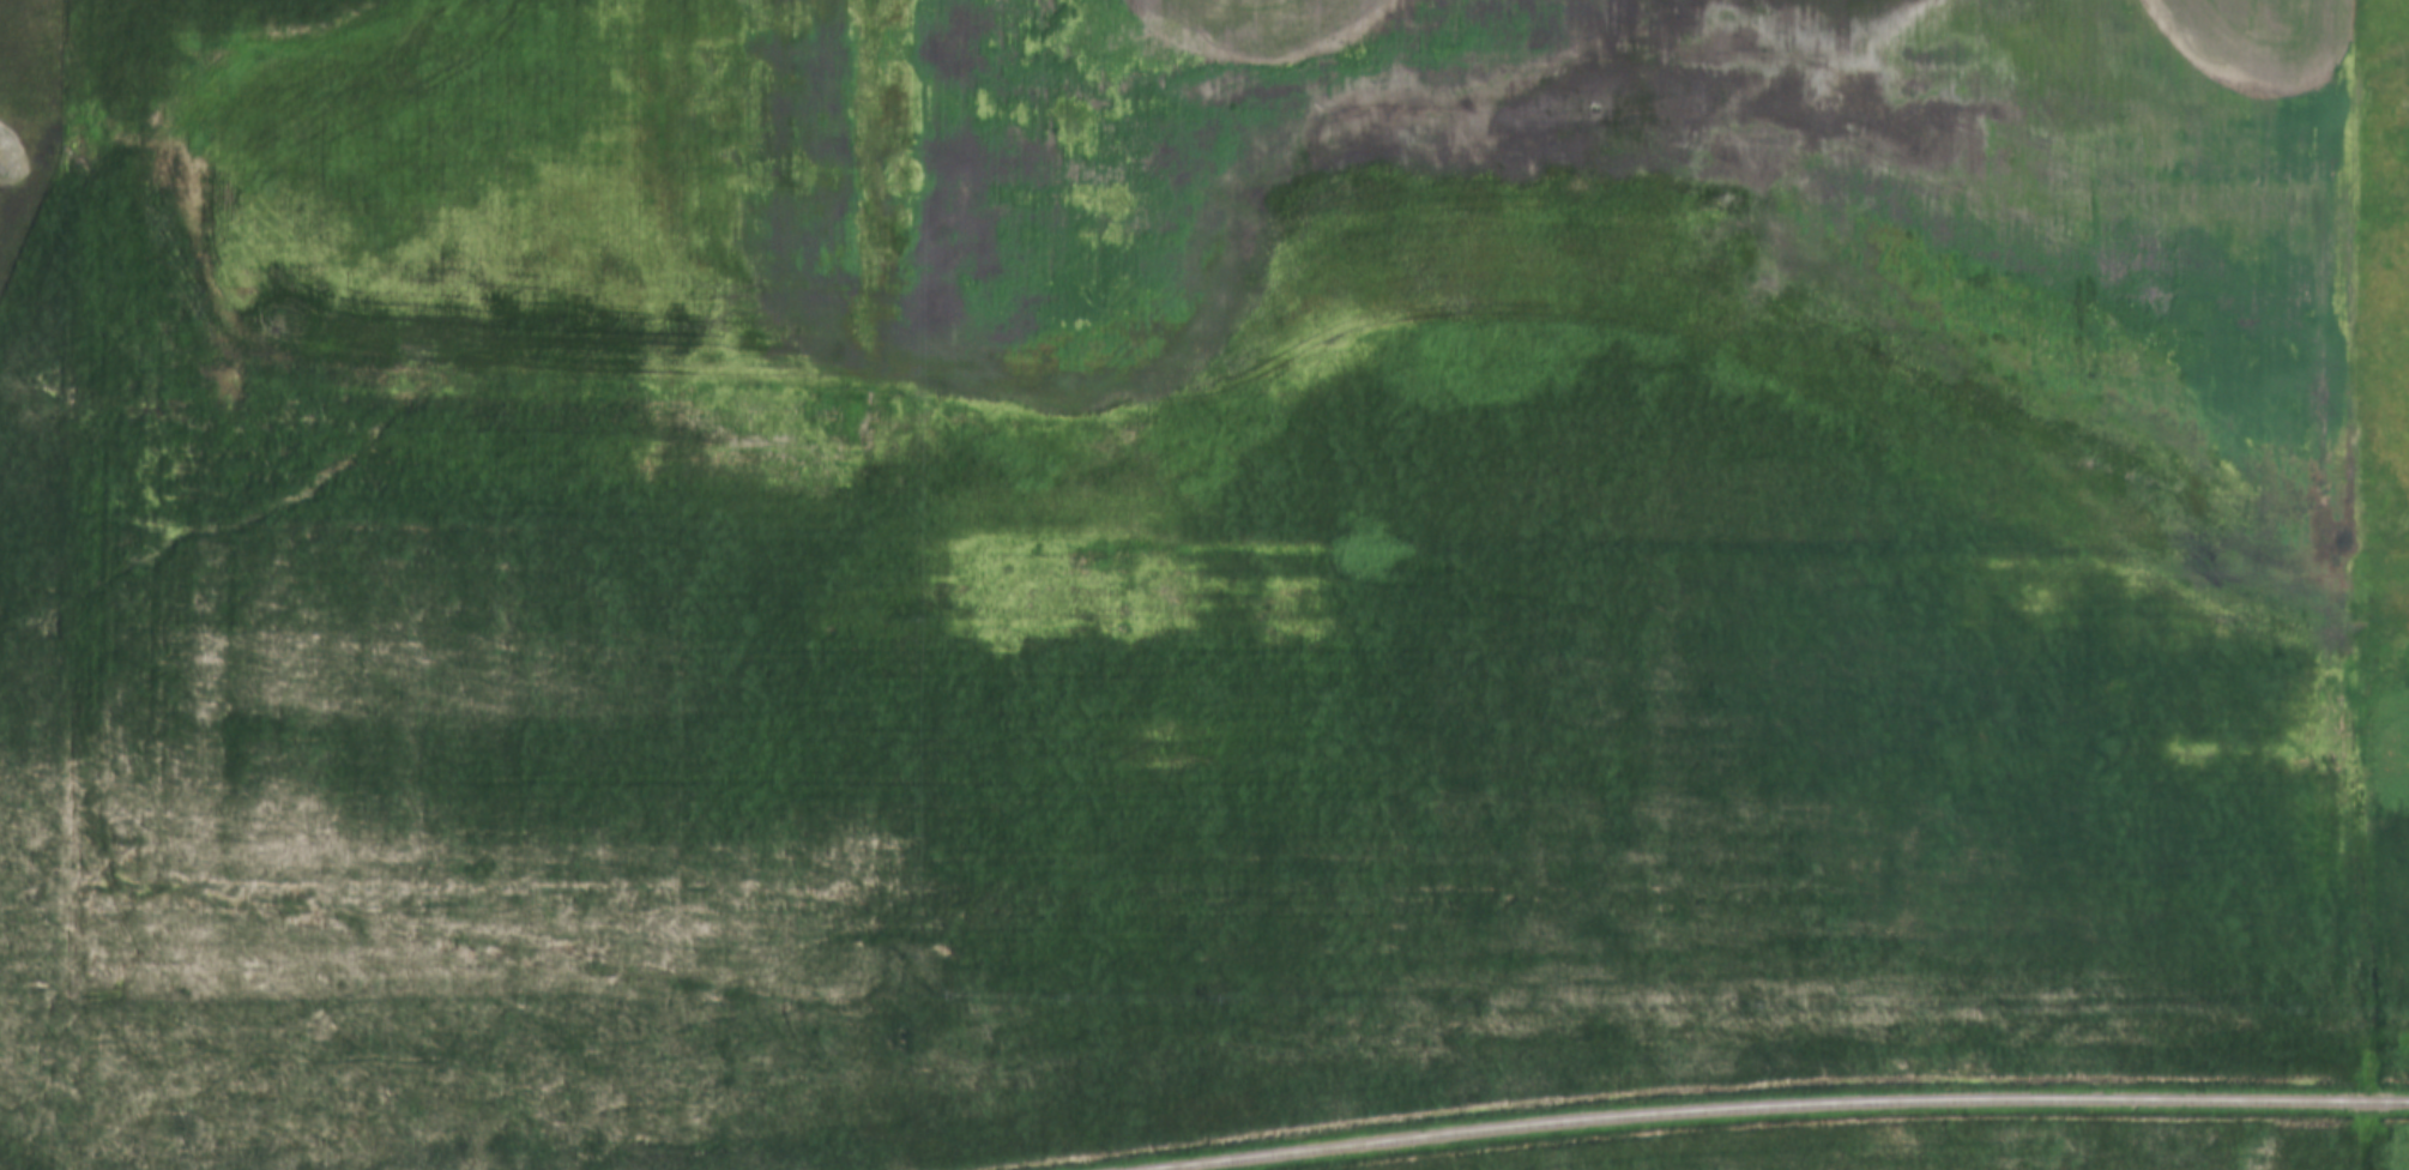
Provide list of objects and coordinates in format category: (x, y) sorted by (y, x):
road: (2360, 585)
railway: (1771, 1104)

